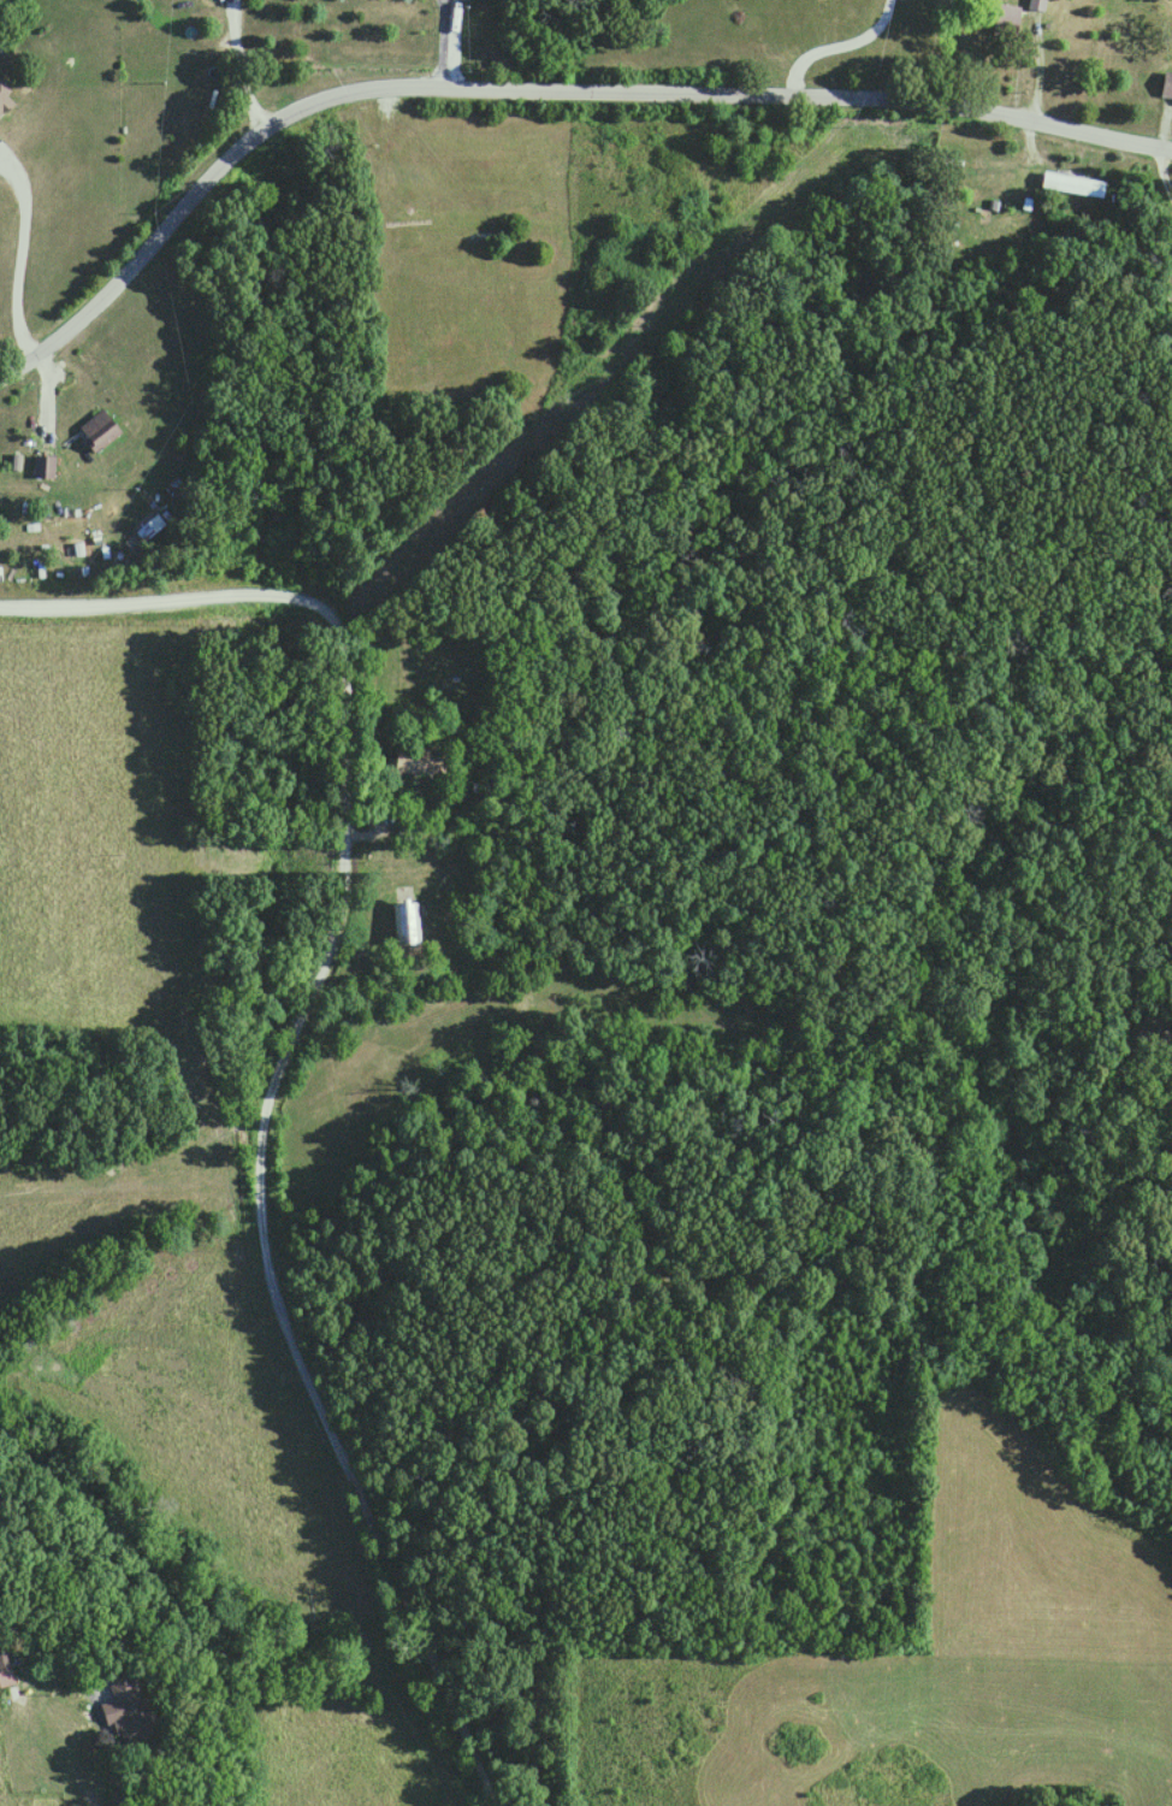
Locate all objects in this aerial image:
road: (1026, 17)
building: (1008, 19)
road: (834, 45)
road: (233, 67)
building: (1167, 87)
road: (534, 92)
building: (6, 100)
road: (1159, 177)
building: (1077, 184)
road: (11, 302)
building: (101, 432)
building: (46, 467)
building: (152, 527)
building: (408, 925)
road: (282, 1043)
building: (6, 1666)
building: (135, 1707)
road: (123, 1798)

